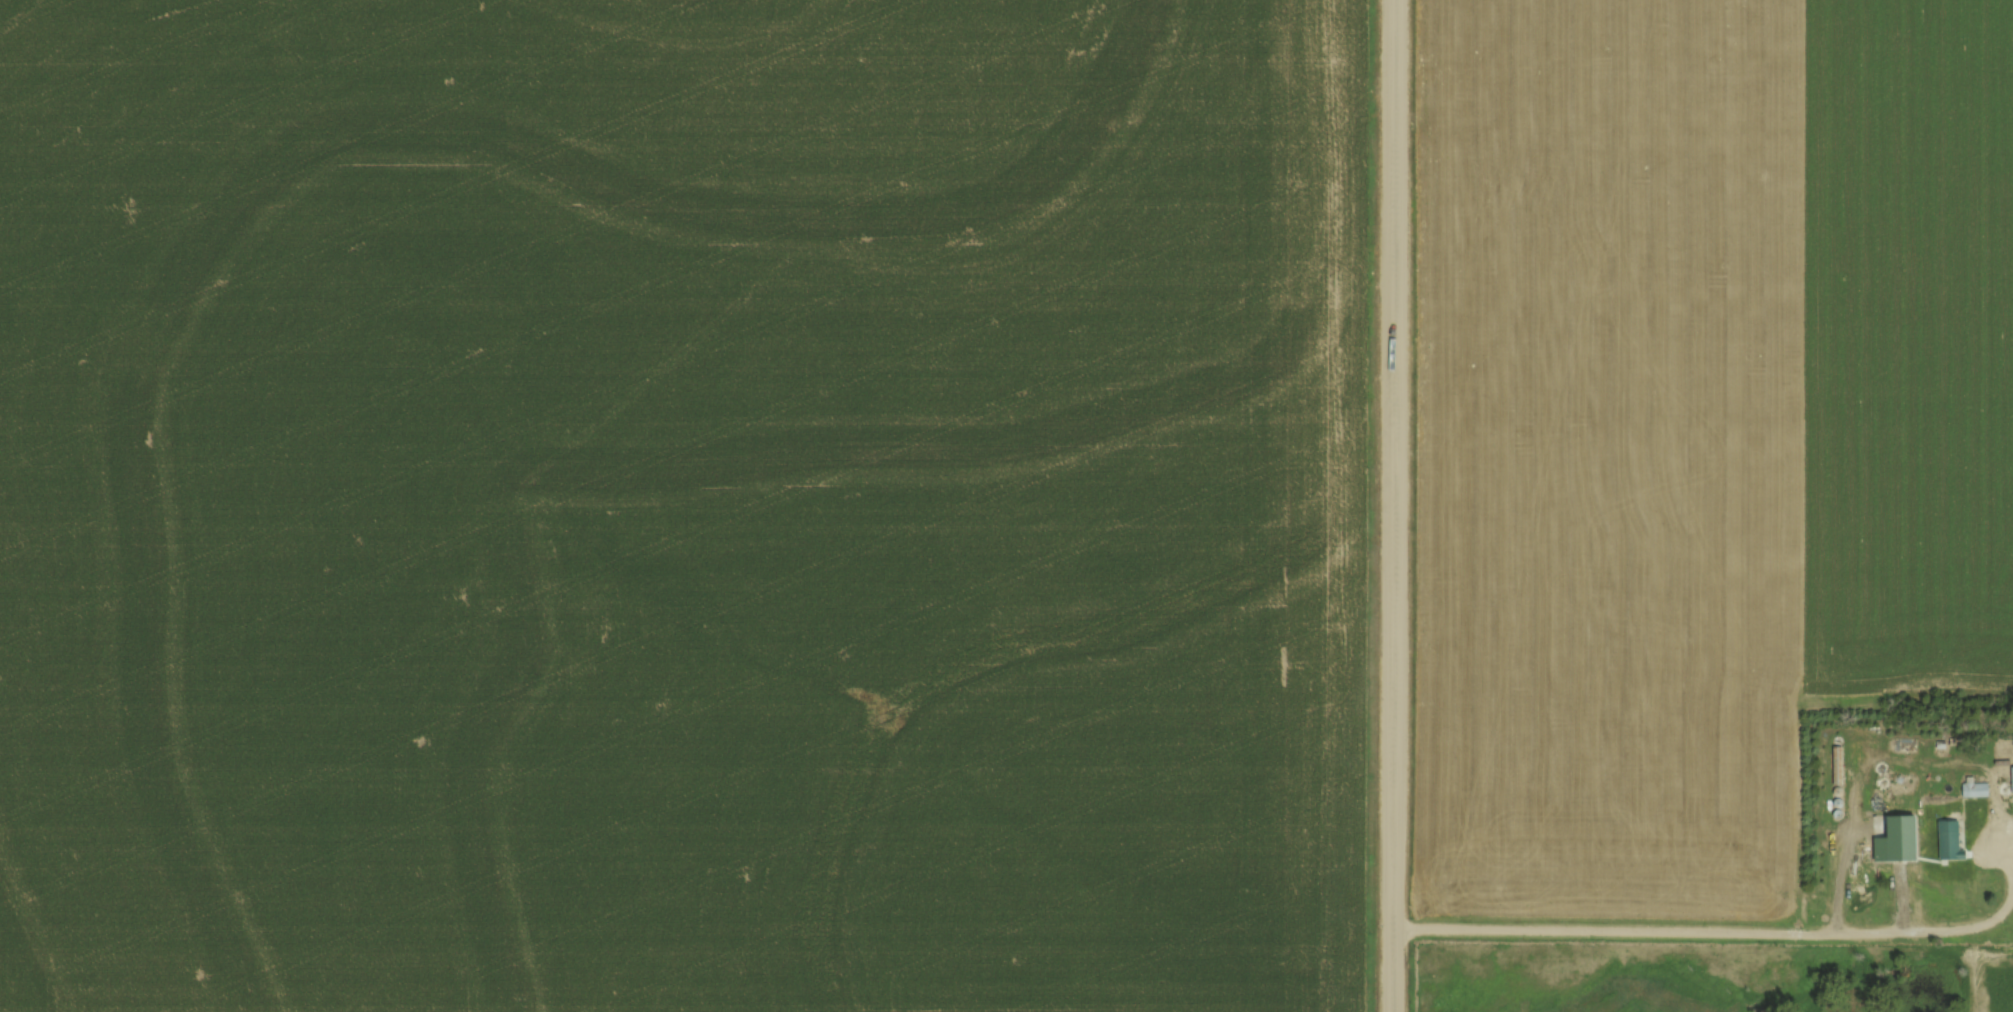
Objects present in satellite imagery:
crop: (1903, 351)
crop: (1602, 457)
road: (1395, 506)
building: (1828, 763)
building: (1839, 764)
building: (2008, 776)
building: (1893, 778)
building: (1906, 839)
building: (1915, 840)
building: (1983, 845)
road: (1889, 857)
road: (1711, 929)

